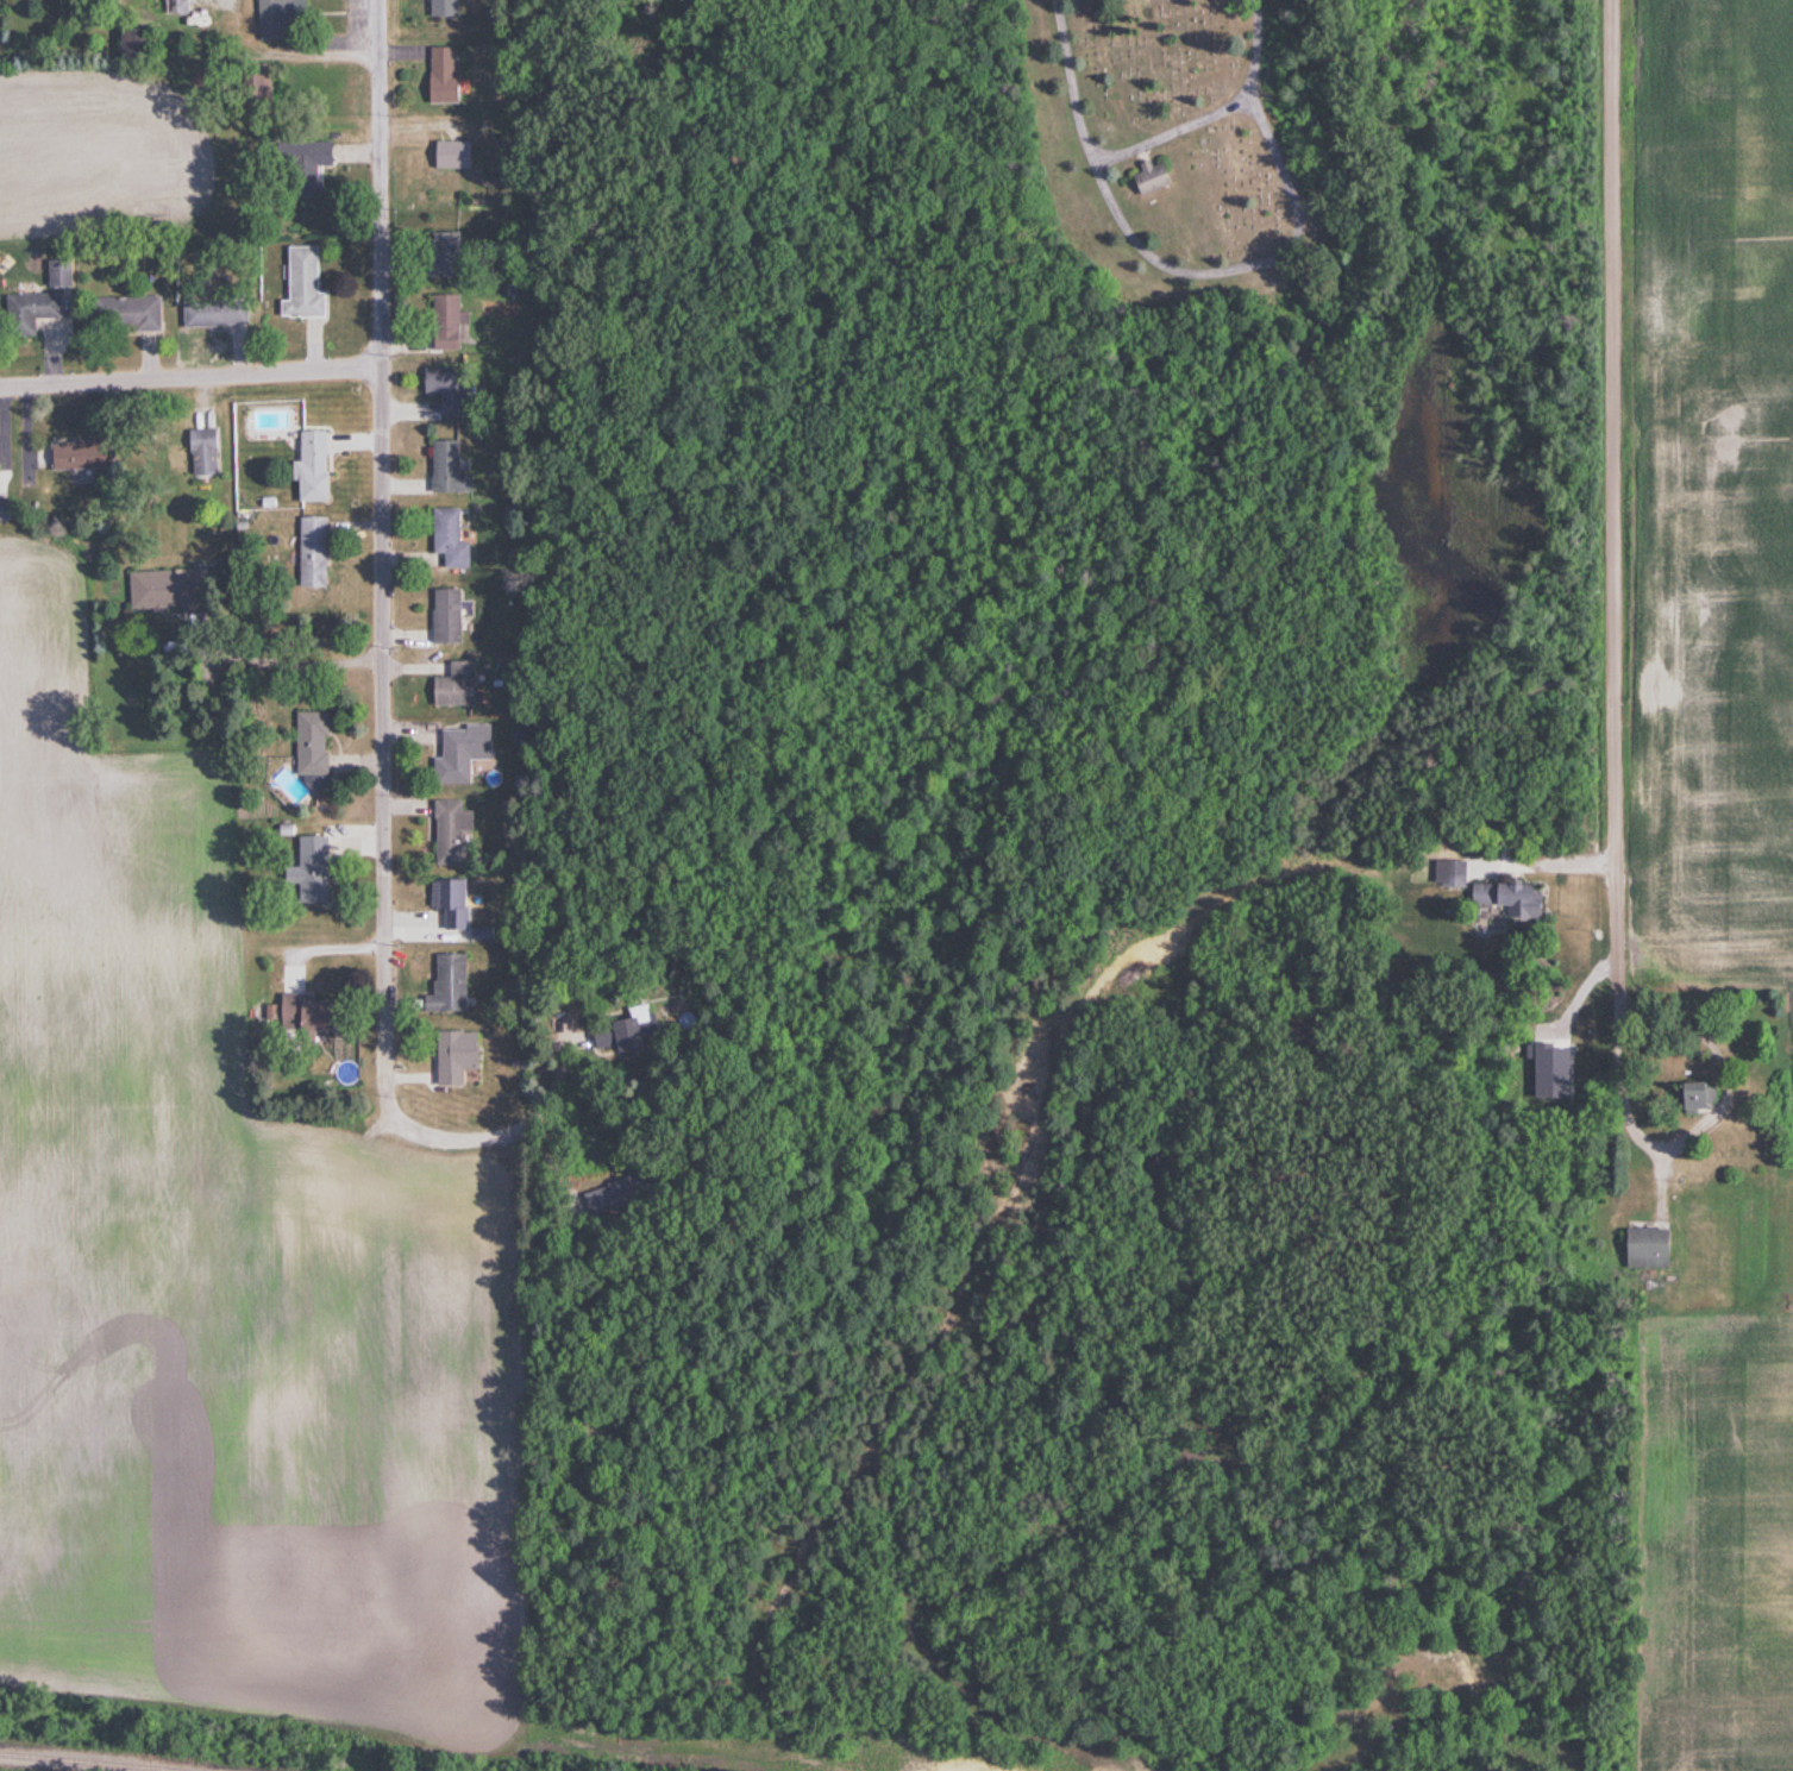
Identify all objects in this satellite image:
building: (171, 6)
building: (440, 8)
building: (271, 18)
road: (333, 56)
building: (438, 75)
building: (249, 82)
building: (445, 153)
park: (1178, 153)
road: (1098, 158)
building: (300, 164)
building: (1148, 177)
road: (1287, 249)
building: (439, 253)
building: (54, 266)
building: (300, 285)
building: (26, 313)
building: (121, 314)
building: (211, 314)
building: (443, 322)
road: (192, 376)
building: (443, 389)
building: (200, 453)
building: (69, 457)
building: (307, 467)
building: (443, 469)
road: (1615, 509)
building: (1, 510)
building: (445, 539)
building: (308, 552)
building: (151, 591)
building: (443, 617)
road: (312, 661)
building: (452, 686)
road: (384, 687)
building: (307, 743)
building: (456, 754)
building: (449, 834)
building: (306, 869)
building: (1452, 877)
building: (1507, 898)
building: (446, 903)
road: (314, 943)
building: (444, 985)
building: (301, 1013)
building: (615, 1032)
building: (451, 1056)
building: (1691, 1097)
building: (607, 1195)
building: (1642, 1249)
railway: (86, 1763)

